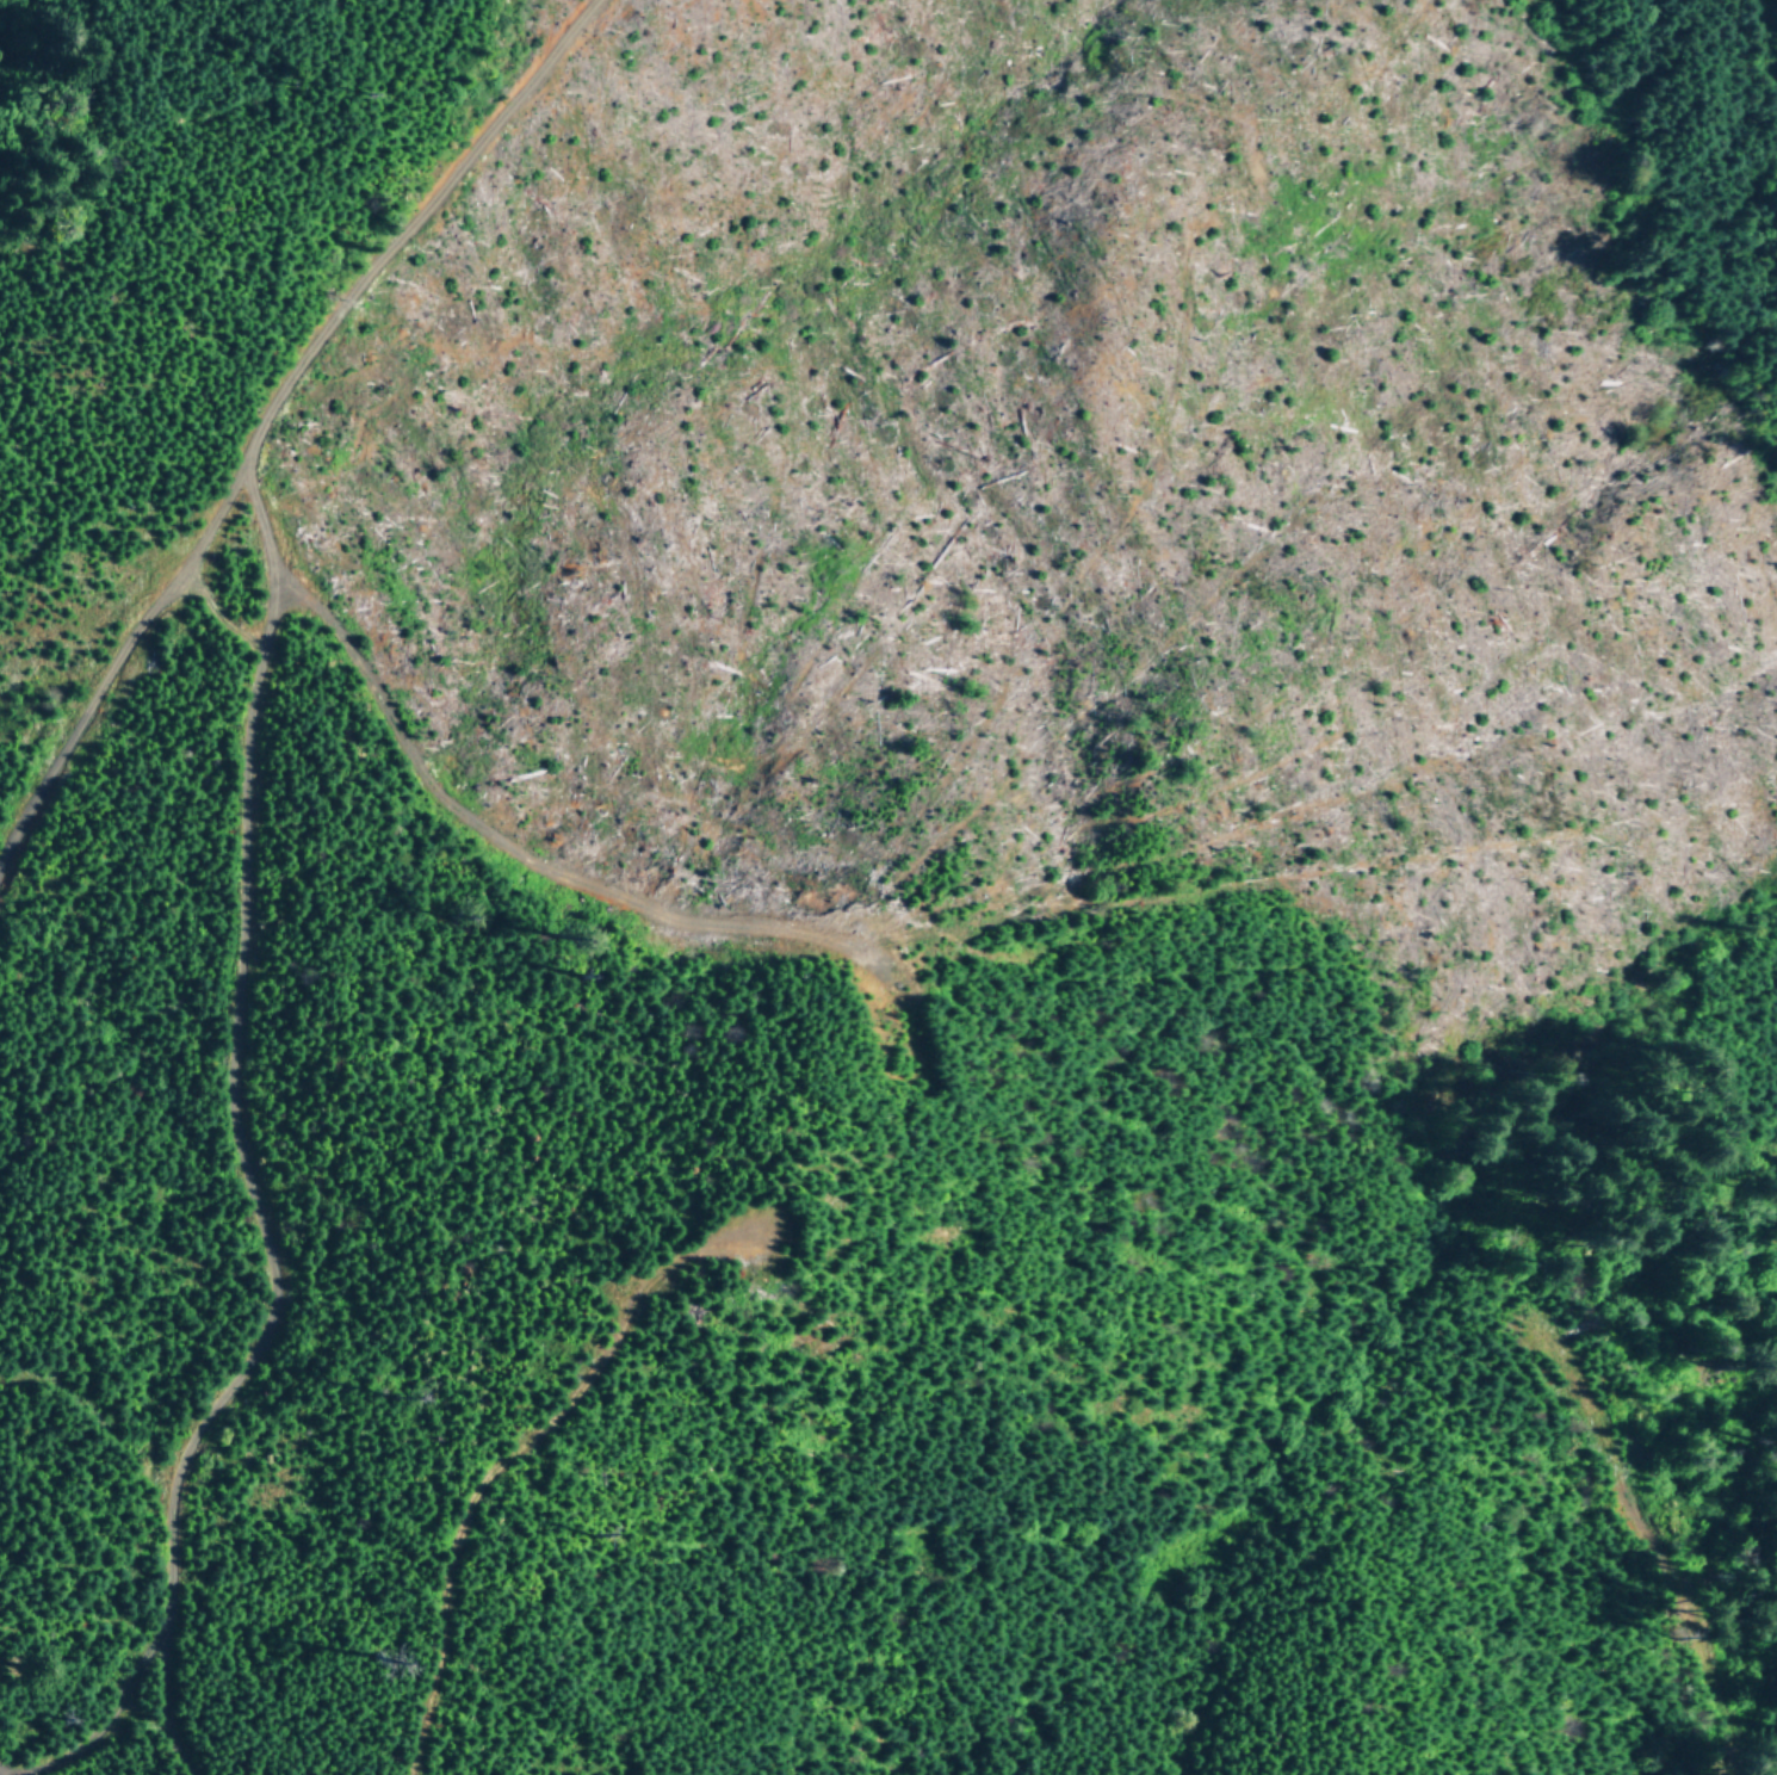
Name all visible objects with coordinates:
road: (242, 852)
road: (72, 1732)
road: (10, 1774)

